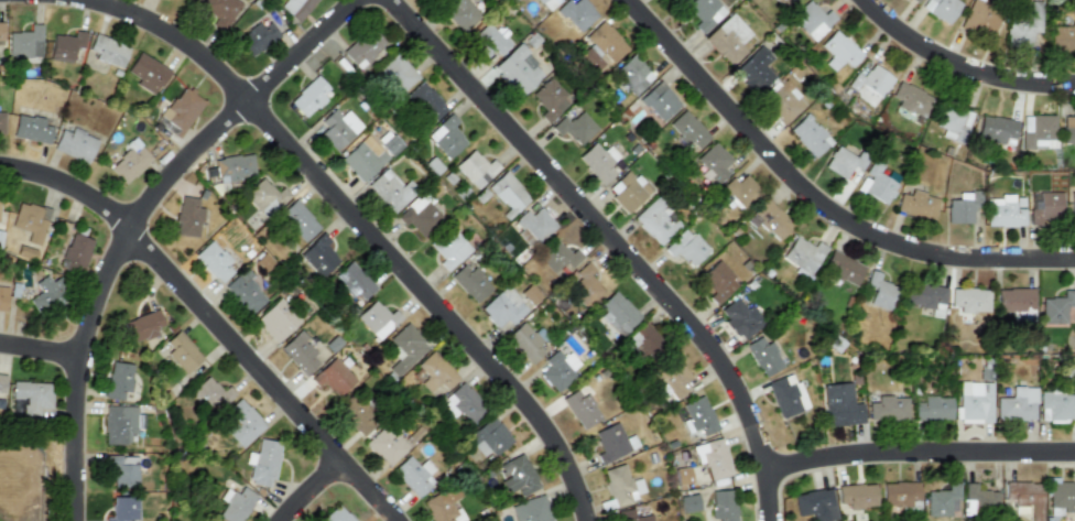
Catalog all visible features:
building: (915, 1)
building: (783, 2)
building: (549, 3)
building: (295, 7)
building: (941, 9)
building: (219, 11)
building: (704, 12)
building: (576, 13)
building: (462, 14)
building: (812, 19)
building: (977, 22)
building: (1023, 29)
building: (1, 30)
building: (257, 36)
building: (1061, 37)
building: (728, 39)
building: (489, 40)
building: (25, 43)
building: (65, 45)
building: (601, 45)
building: (362, 47)
building: (107, 51)
building: (838, 51)
road: (963, 64)
building: (517, 69)
building: (754, 69)
building: (146, 73)
building: (395, 73)
building: (632, 74)
building: (870, 84)
building: (310, 96)
building: (911, 98)
building: (550, 99)
building: (659, 100)
building: (425, 101)
building: (180, 110)
building: (1, 121)
building: (953, 122)
building: (574, 127)
building: (337, 128)
building: (996, 128)
building: (30, 129)
building: (1068, 129)
building: (688, 130)
building: (1038, 131)
building: (810, 135)
building: (446, 138)
building: (388, 142)
building: (74, 144)
building: (363, 158)
building: (597, 161)
building: (713, 162)
building: (843, 162)
building: (129, 163)
building: (234, 167)
building: (475, 169)
building: (878, 183)
building: (389, 189)
building: (628, 189)
building: (739, 191)
building: (507, 192)
road: (818, 195)
building: (264, 197)
building: (916, 204)
building: (1044, 205)
building: (1072, 206)
building: (963, 207)
building: (1005, 210)
building: (419, 216)
building: (187, 217)
building: (770, 218)
road: (135, 219)
building: (297, 219)
building: (655, 220)
building: (532, 225)
building: (36, 229)
road: (368, 229)
road: (616, 241)
building: (448, 247)
building: (685, 247)
building: (76, 252)
building: (318, 254)
building: (801, 254)
building: (558, 256)
building: (214, 261)
building: (841, 268)
building: (352, 281)
building: (717, 281)
building: (469, 282)
building: (583, 284)
building: (243, 291)
building: (877, 291)
building: (529, 294)
building: (923, 294)
building: (50, 295)
building: (2, 299)
building: (969, 299)
building: (1016, 302)
building: (502, 307)
building: (1056, 307)
building: (617, 312)
building: (739, 317)
building: (376, 318)
road: (216, 319)
building: (275, 319)
building: (142, 326)
building: (643, 339)
building: (524, 343)
building: (403, 349)
road: (41, 350)
building: (296, 350)
building: (181, 352)
building: (763, 356)
building: (558, 368)
building: (435, 372)
building: (333, 377)
building: (673, 378)
building: (118, 379)
building: (2, 382)
building: (211, 394)
building: (785, 394)
building: (31, 395)
building: (973, 401)
building: (463, 403)
building: (840, 404)
building: (1016, 404)
building: (1055, 405)
building: (888, 408)
building: (932, 408)
building: (579, 409)
building: (355, 414)
building: (697, 415)
building: (118, 423)
building: (241, 423)
building: (488, 436)
building: (612, 442)
building: (386, 445)
road: (921, 449)
building: (712, 457)
building: (262, 463)
park: (29, 470)
building: (122, 470)
building: (413, 475)
building: (517, 475)
building: (682, 475)
building: (621, 484)
road: (311, 487)
building: (899, 492)
building: (856, 495)
building: (1062, 495)
building: (1024, 498)
building: (978, 499)
building: (942, 500)
building: (235, 503)
building: (442, 504)
building: (723, 504)
building: (815, 504)
building: (122, 509)
building: (531, 510)
building: (336, 514)
building: (633, 515)

